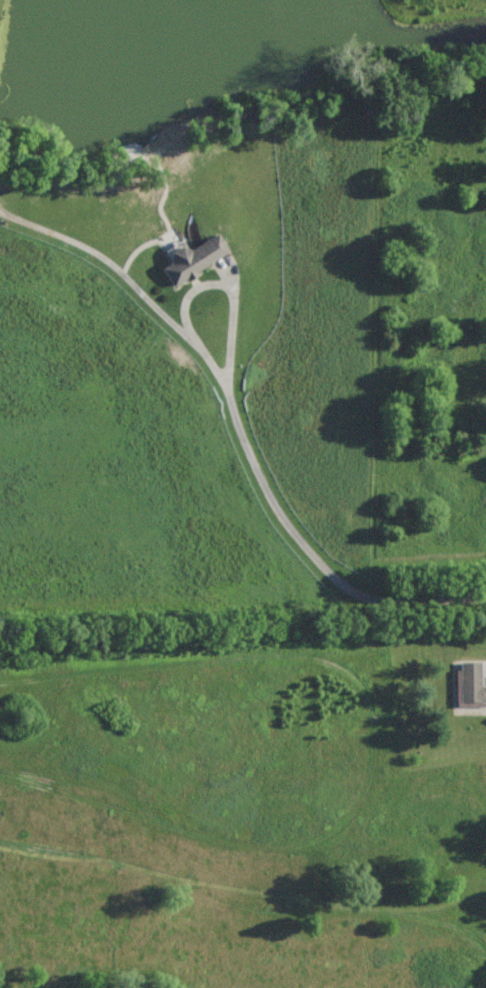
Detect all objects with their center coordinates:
building: (192, 258)
road: (106, 259)
road: (206, 284)
road: (312, 553)
building: (470, 685)
park: (227, 914)

